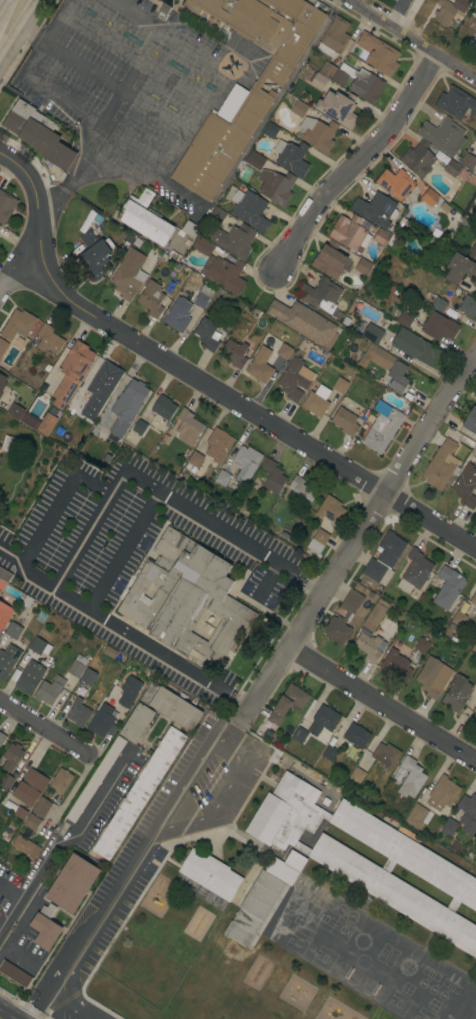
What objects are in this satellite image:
road: (4, 1)
road: (2, 6)
building: (444, 12)
road: (58, 20)
road: (21, 32)
road: (34, 34)
building: (333, 38)
building: (475, 38)
road: (414, 41)
building: (475, 50)
building: (379, 53)
road: (135, 56)
building: (317, 80)
building: (354, 80)
road: (116, 86)
building: (246, 103)
building: (456, 103)
building: (298, 108)
building: (338, 108)
road: (109, 111)
road: (198, 112)
building: (270, 130)
building: (317, 133)
building: (38, 134)
building: (445, 147)
building: (291, 157)
building: (254, 160)
building: (468, 161)
road: (355, 162)
building: (452, 168)
road: (77, 172)
building: (475, 172)
building: (395, 183)
building: (276, 186)
building: (429, 197)
building: (440, 204)
building: (6, 206)
building: (248, 208)
building: (376, 209)
building: (217, 215)
building: (145, 218)
building: (448, 225)
building: (190, 229)
building: (355, 233)
building: (234, 240)
building: (202, 245)
building: (473, 251)
building: (94, 254)
building: (329, 259)
building: (362, 265)
road: (16, 266)
building: (459, 268)
building: (128, 274)
building: (226, 274)
building: (475, 283)
building: (320, 295)
building: (202, 296)
building: (151, 298)
building: (439, 304)
building: (468, 306)
building: (178, 314)
building: (404, 319)
building: (302, 321)
building: (17, 324)
building: (438, 326)
building: (369, 332)
building: (207, 334)
building: (49, 339)
building: (3, 346)
building: (415, 346)
building: (284, 351)
building: (234, 353)
building: (260, 365)
building: (386, 365)
building: (71, 372)
road: (197, 377)
building: (295, 379)
building: (2, 382)
building: (339, 385)
building: (101, 387)
building: (316, 401)
building: (127, 406)
building: (163, 407)
building: (15, 410)
building: (345, 421)
building: (470, 421)
building: (39, 422)
building: (188, 424)
road: (456, 424)
building: (139, 427)
building: (382, 430)
building: (12, 444)
building: (218, 444)
building: (0, 449)
building: (196, 463)
building: (245, 463)
building: (441, 465)
building: (271, 476)
building: (222, 478)
building: (466, 488)
building: (300, 491)
road: (54, 508)
building: (330, 509)
road: (359, 530)
road: (82, 539)
building: (317, 541)
road: (124, 550)
road: (11, 555)
building: (384, 558)
building: (414, 571)
building: (4, 578)
road: (267, 580)
building: (447, 587)
building: (185, 598)
building: (473, 599)
building: (4, 614)
building: (375, 614)
building: (338, 617)
building: (457, 620)
building: (12, 630)
building: (44, 634)
building: (421, 645)
building: (39, 646)
building: (368, 646)
building: (474, 647)
building: (8, 660)
building: (77, 666)
building: (396, 666)
building: (88, 676)
building: (430, 676)
building: (29, 677)
building: (475, 683)
building: (49, 690)
building: (129, 691)
building: (457, 693)
road: (383, 699)
building: (287, 703)
building: (78, 712)
building: (475, 715)
building: (101, 720)
building: (323, 721)
road: (235, 723)
road: (44, 726)
building: (299, 735)
building: (356, 735)
building: (2, 737)
building: (329, 753)
building: (386, 755)
building: (11, 756)
building: (357, 775)
road: (183, 778)
building: (410, 778)
building: (5, 780)
building: (59, 781)
building: (29, 787)
building: (442, 793)
building: (136, 797)
road: (217, 805)
building: (41, 807)
building: (20, 812)
building: (468, 813)
building: (415, 816)
building: (32, 822)
building: (448, 827)
building: (408, 833)
parking lot: (153, 834)
road: (62, 835)
building: (25, 846)
building: (294, 861)
building: (426, 865)
building: (210, 874)
building: (72, 883)
road: (104, 904)
building: (254, 908)
building: (45, 927)
building: (14, 974)
park: (223, 987)
road: (32, 993)
road: (73, 1004)
road: (9, 1013)
park: (379, 1013)

